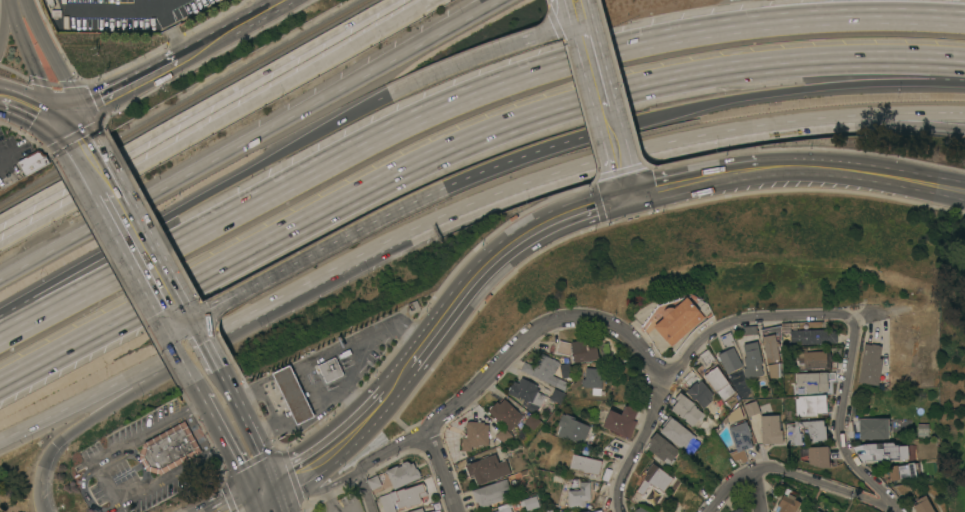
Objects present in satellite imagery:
road: (15, 2)
road: (267, 3)
road: (546, 3)
road: (118, 7)
road: (3, 15)
road: (554, 24)
road: (231, 26)
road: (170, 29)
road: (482, 53)
road: (50, 54)
road: (30, 63)
road: (124, 83)
road: (597, 86)
road: (619, 88)
road: (782, 90)
railway: (182, 102)
road: (460, 102)
road: (32, 107)
road: (195, 108)
road: (580, 111)
traffic signals: (66, 114)
road: (884, 114)
road: (214, 121)
road: (885, 123)
road: (73, 128)
road: (247, 138)
road: (460, 148)
road: (521, 156)
road: (704, 157)
building: (33, 161)
road: (95, 166)
road: (863, 171)
road: (693, 179)
road: (624, 184)
road: (505, 190)
road: (191, 200)
road: (597, 202)
road: (309, 254)
road: (144, 255)
road: (497, 255)
road: (891, 308)
building: (678, 320)
road: (746, 321)
road: (199, 336)
road: (358, 336)
building: (812, 336)
building: (725, 339)
road: (176, 347)
building: (584, 349)
building: (771, 351)
road: (362, 356)
road: (509, 356)
building: (730, 359)
building: (752, 359)
building: (811, 359)
road: (213, 363)
building: (870, 364)
building: (330, 369)
building: (544, 371)
road: (281, 372)
road: (219, 374)
building: (592, 377)
road: (396, 379)
building: (812, 380)
road: (114, 381)
road: (193, 382)
building: (719, 382)
road: (316, 384)
road: (250, 385)
building: (700, 392)
building: (527, 393)
building: (291, 394)
building: (557, 395)
building: (810, 404)
road: (111, 405)
road: (266, 405)
building: (752, 407)
building: (686, 409)
building: (505, 413)
road: (314, 417)
building: (621, 420)
building: (532, 421)
road: (840, 423)
building: (871, 427)
building: (572, 428)
building: (770, 428)
building: (816, 429)
building: (922, 429)
road: (248, 432)
building: (475, 434)
building: (503, 434)
building: (678, 435)
building: (741, 439)
road: (226, 444)
building: (662, 447)
road: (333, 448)
road: (639, 448)
building: (168, 449)
building: (886, 450)
building: (819, 456)
building: (585, 463)
building: (486, 468)
building: (902, 470)
road: (442, 472)
building: (402, 474)
building: (653, 478)
building: (373, 481)
road: (105, 482)
road: (824, 484)
traffic signals: (266, 487)
road: (729, 488)
road: (320, 490)
road: (363, 492)
building: (492, 492)
road: (757, 493)
road: (227, 494)
building: (579, 494)
building: (409, 495)
road: (252, 499)
road: (269, 499)
building: (788, 501)
building: (387, 502)
building: (531, 502)
building: (923, 505)
building: (417, 510)
building: (505, 510)
building: (642, 510)
building: (737, 510)
road: (895, 510)
building: (435, 511)
building: (587, 511)
building: (636, 511)
building: (815, 511)
building: (818, 511)

